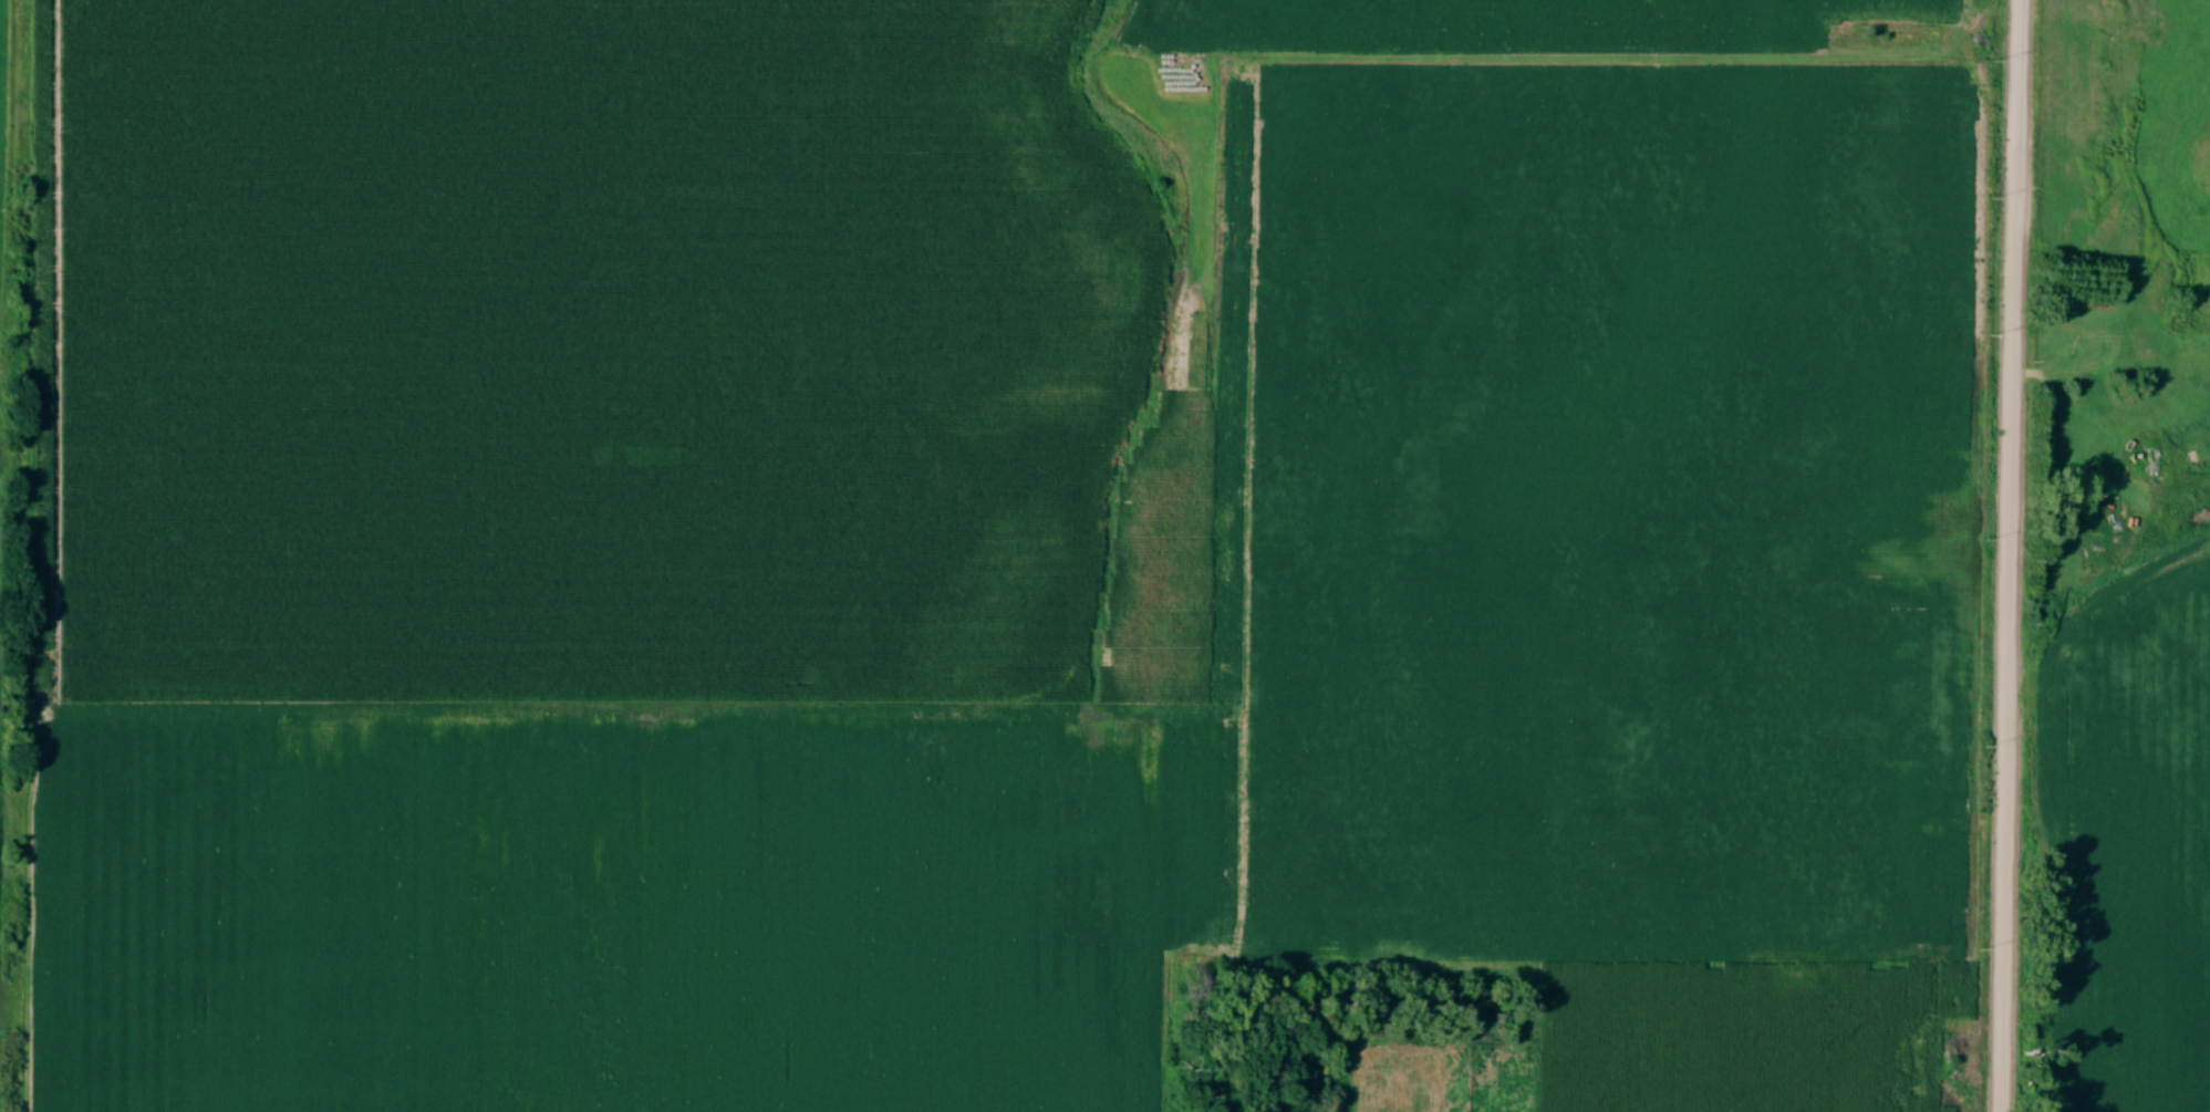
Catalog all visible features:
building: (2152, 463)
road: (2011, 555)

